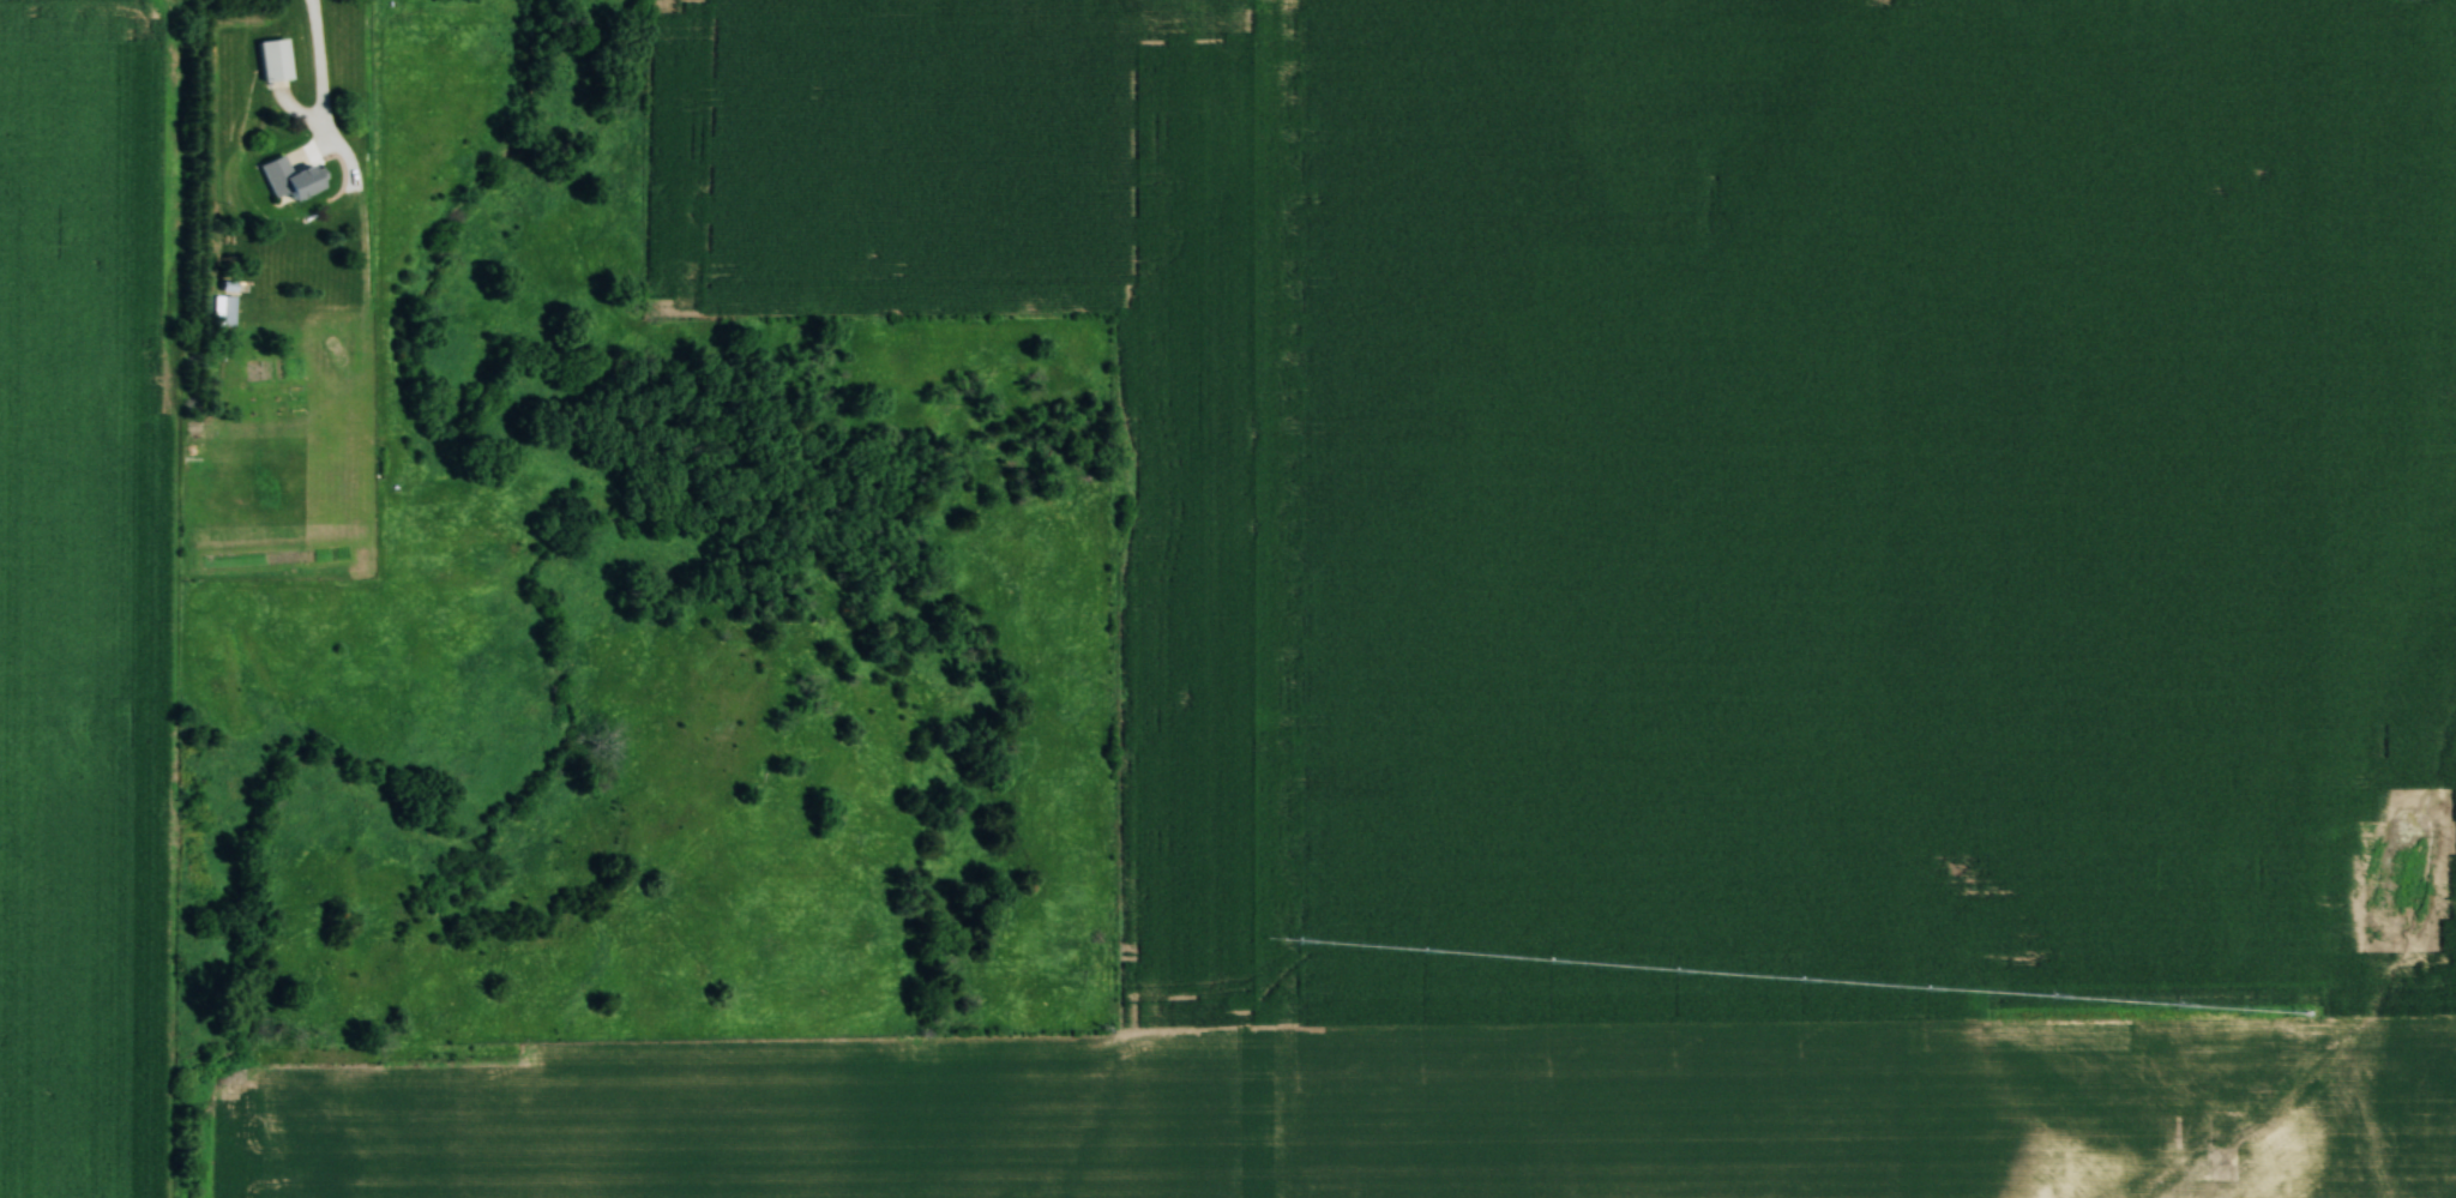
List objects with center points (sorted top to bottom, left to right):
building: (277, 60)
road: (319, 86)
building: (294, 180)
building: (227, 308)

